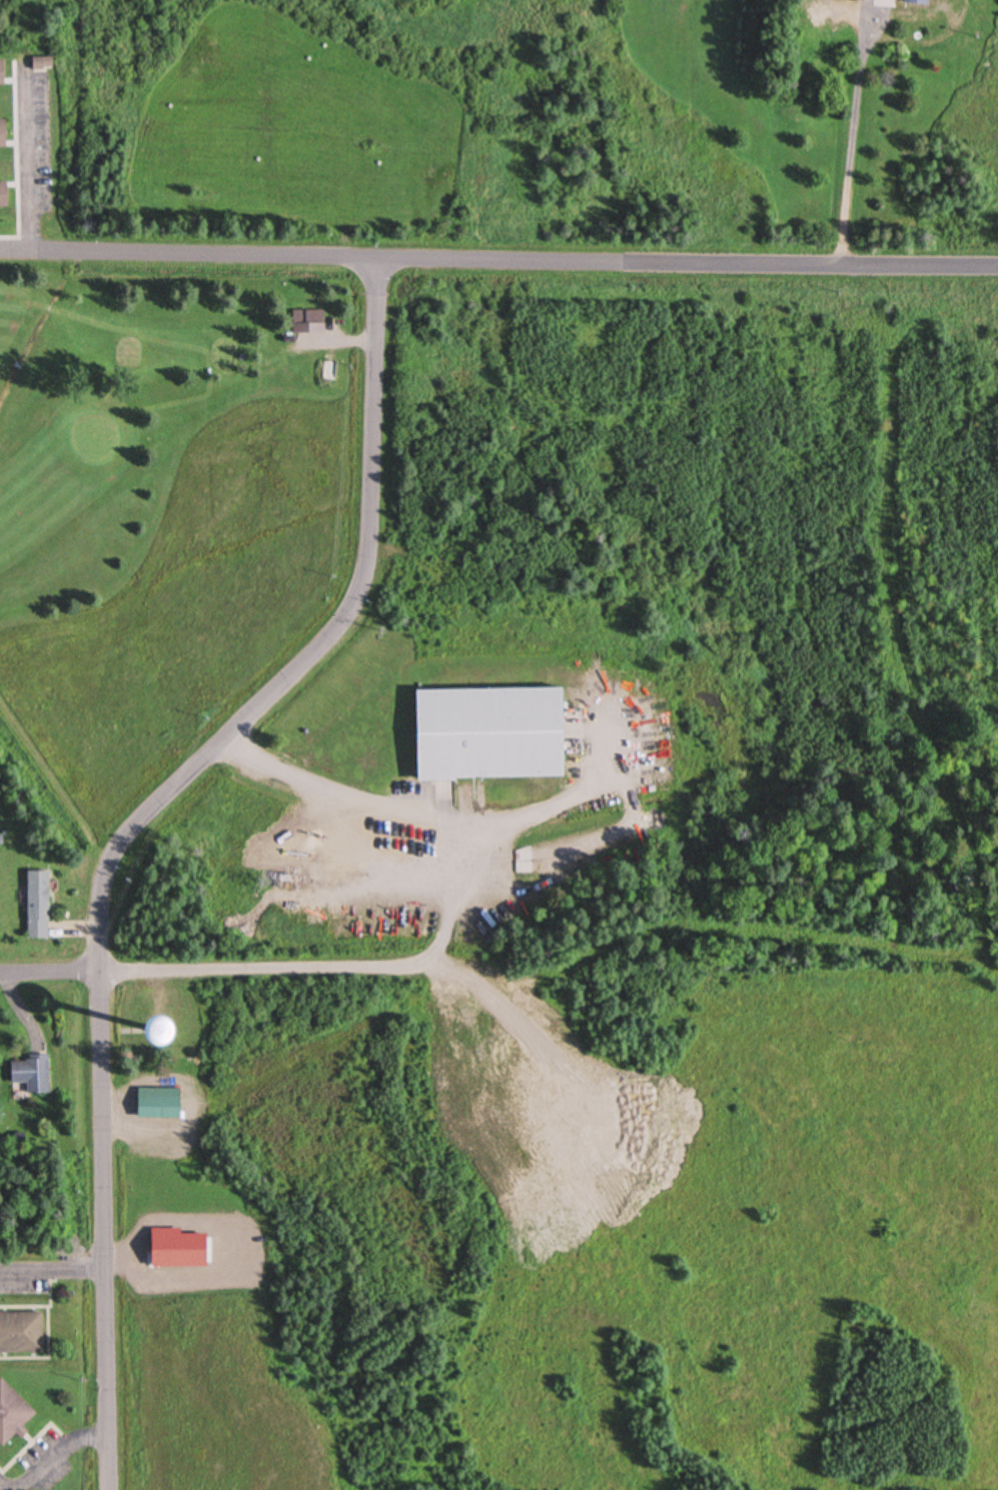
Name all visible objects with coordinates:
building: (915, 3)
building: (40, 64)
building: (1, 74)
building: (1, 134)
building: (2, 196)
road: (31, 249)
road: (530, 256)
building: (307, 321)
building: (329, 371)
park: (94, 440)
park: (165, 506)
building: (498, 732)
road: (136, 830)
building: (36, 905)
park: (663, 953)
road: (268, 969)
road: (52, 972)
water tower: (158, 1027)
building: (29, 1075)
building: (155, 1108)
building: (20, 1334)
building: (10, 1415)

